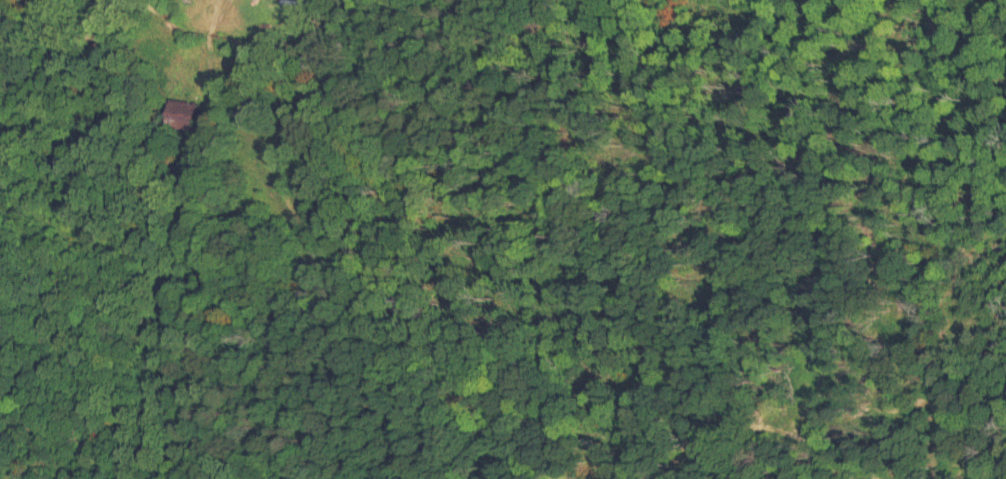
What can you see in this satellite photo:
building: (180, 114)

